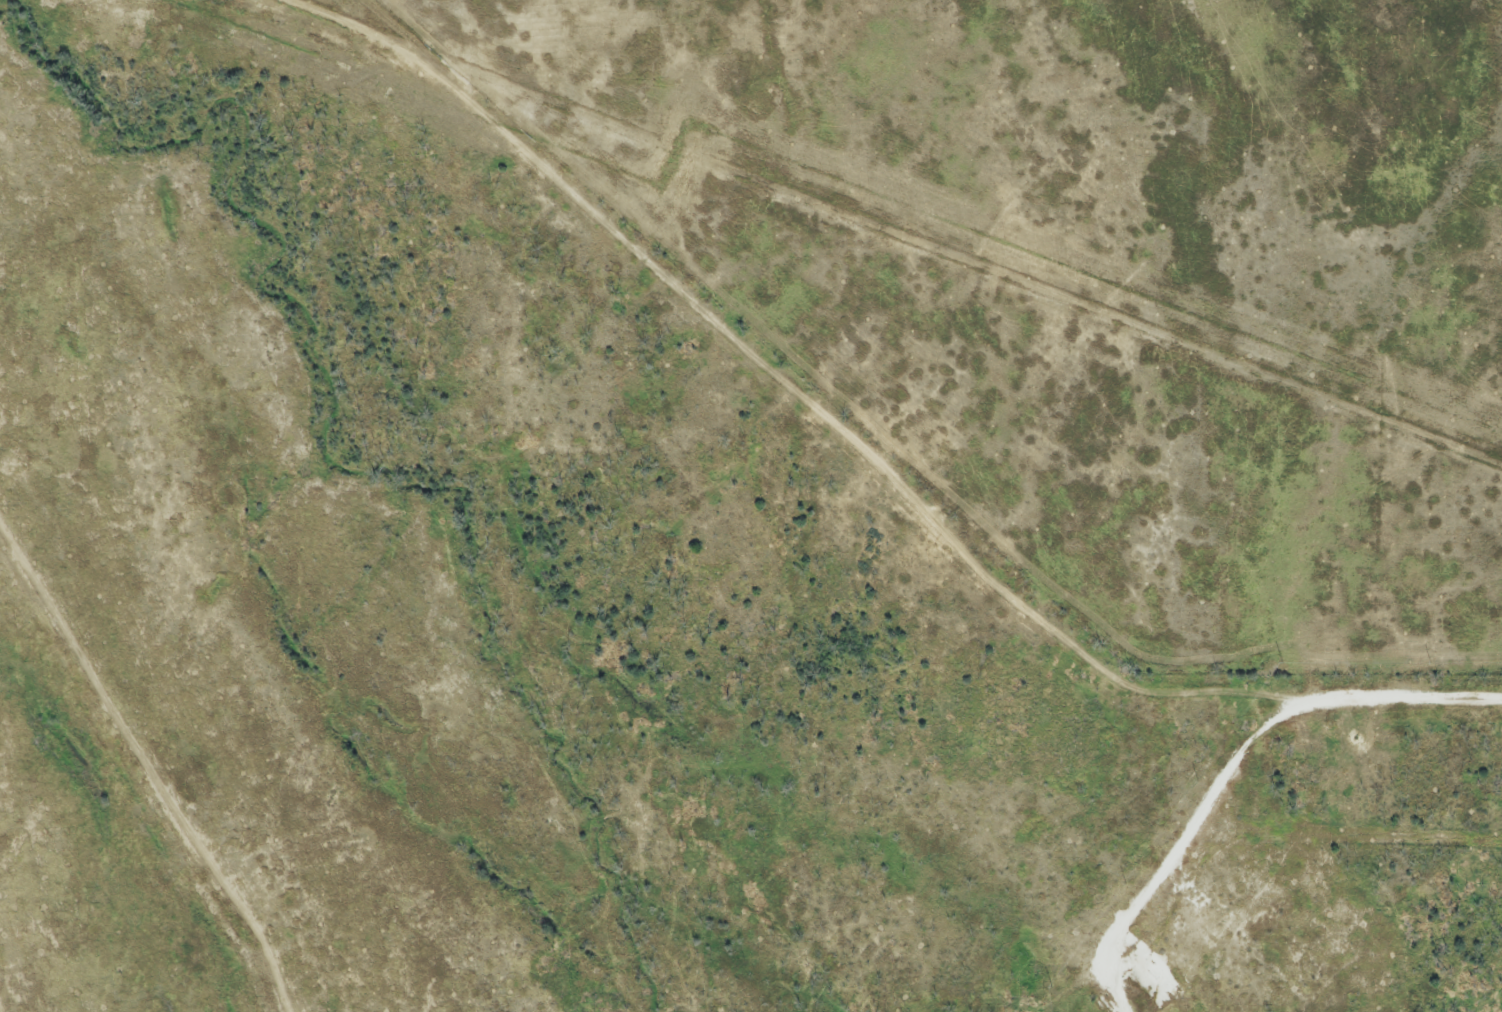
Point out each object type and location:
road: (1240, 768)

